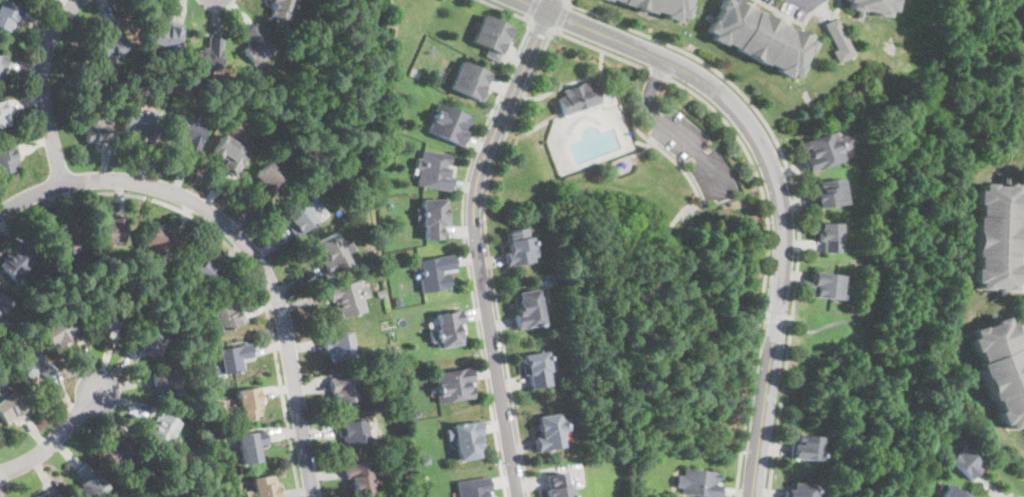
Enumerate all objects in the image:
road: (804, 2)
road: (551, 5)
building: (660, 6)
building: (869, 6)
building: (280, 8)
road: (533, 10)
building: (9, 16)
road: (564, 16)
building: (1021, 19)
road: (544, 26)
building: (166, 34)
building: (493, 35)
building: (758, 36)
building: (837, 40)
building: (112, 41)
building: (256, 45)
road: (604, 50)
building: (209, 57)
building: (3, 63)
road: (659, 74)
building: (471, 80)
road: (43, 88)
building: (103, 88)
road: (650, 91)
building: (577, 98)
building: (215, 100)
building: (3, 113)
building: (141, 124)
building: (448, 125)
building: (96, 131)
building: (188, 133)
building: (823, 149)
building: (228, 154)
road: (700, 154)
building: (8, 158)
building: (432, 170)
road: (774, 177)
building: (268, 181)
road: (794, 188)
building: (829, 194)
building: (361, 199)
building: (299, 217)
building: (432, 218)
road: (463, 227)
building: (110, 233)
building: (996, 235)
building: (829, 236)
building: (68, 239)
building: (160, 241)
road: (243, 241)
building: (518, 247)
road: (477, 248)
road: (233, 250)
building: (333, 253)
road: (490, 257)
building: (17, 261)
road: (766, 268)
building: (204, 270)
building: (434, 273)
building: (825, 286)
building: (381, 294)
building: (348, 298)
building: (398, 301)
building: (3, 305)
building: (527, 309)
building: (227, 315)
building: (105, 321)
building: (447, 328)
building: (59, 330)
building: (560, 330)
building: (11, 331)
building: (16, 342)
building: (145, 344)
building: (338, 346)
building: (389, 353)
building: (207, 354)
building: (233, 358)
building: (33, 366)
building: (1001, 367)
building: (537, 369)
building: (168, 384)
building: (452, 385)
building: (345, 389)
building: (249, 402)
building: (11, 408)
building: (416, 413)
building: (202, 418)
building: (163, 430)
building: (549, 432)
building: (353, 433)
building: (217, 434)
road: (54, 437)
building: (465, 439)
building: (400, 443)
building: (251, 446)
building: (806, 448)
building: (114, 451)
building: (425, 458)
building: (965, 461)
building: (360, 478)
building: (89, 482)
building: (702, 483)
building: (557, 486)
building: (262, 487)
building: (473, 487)
building: (644, 489)
building: (800, 490)
building: (953, 492)
building: (49, 494)
road: (1010, 496)

